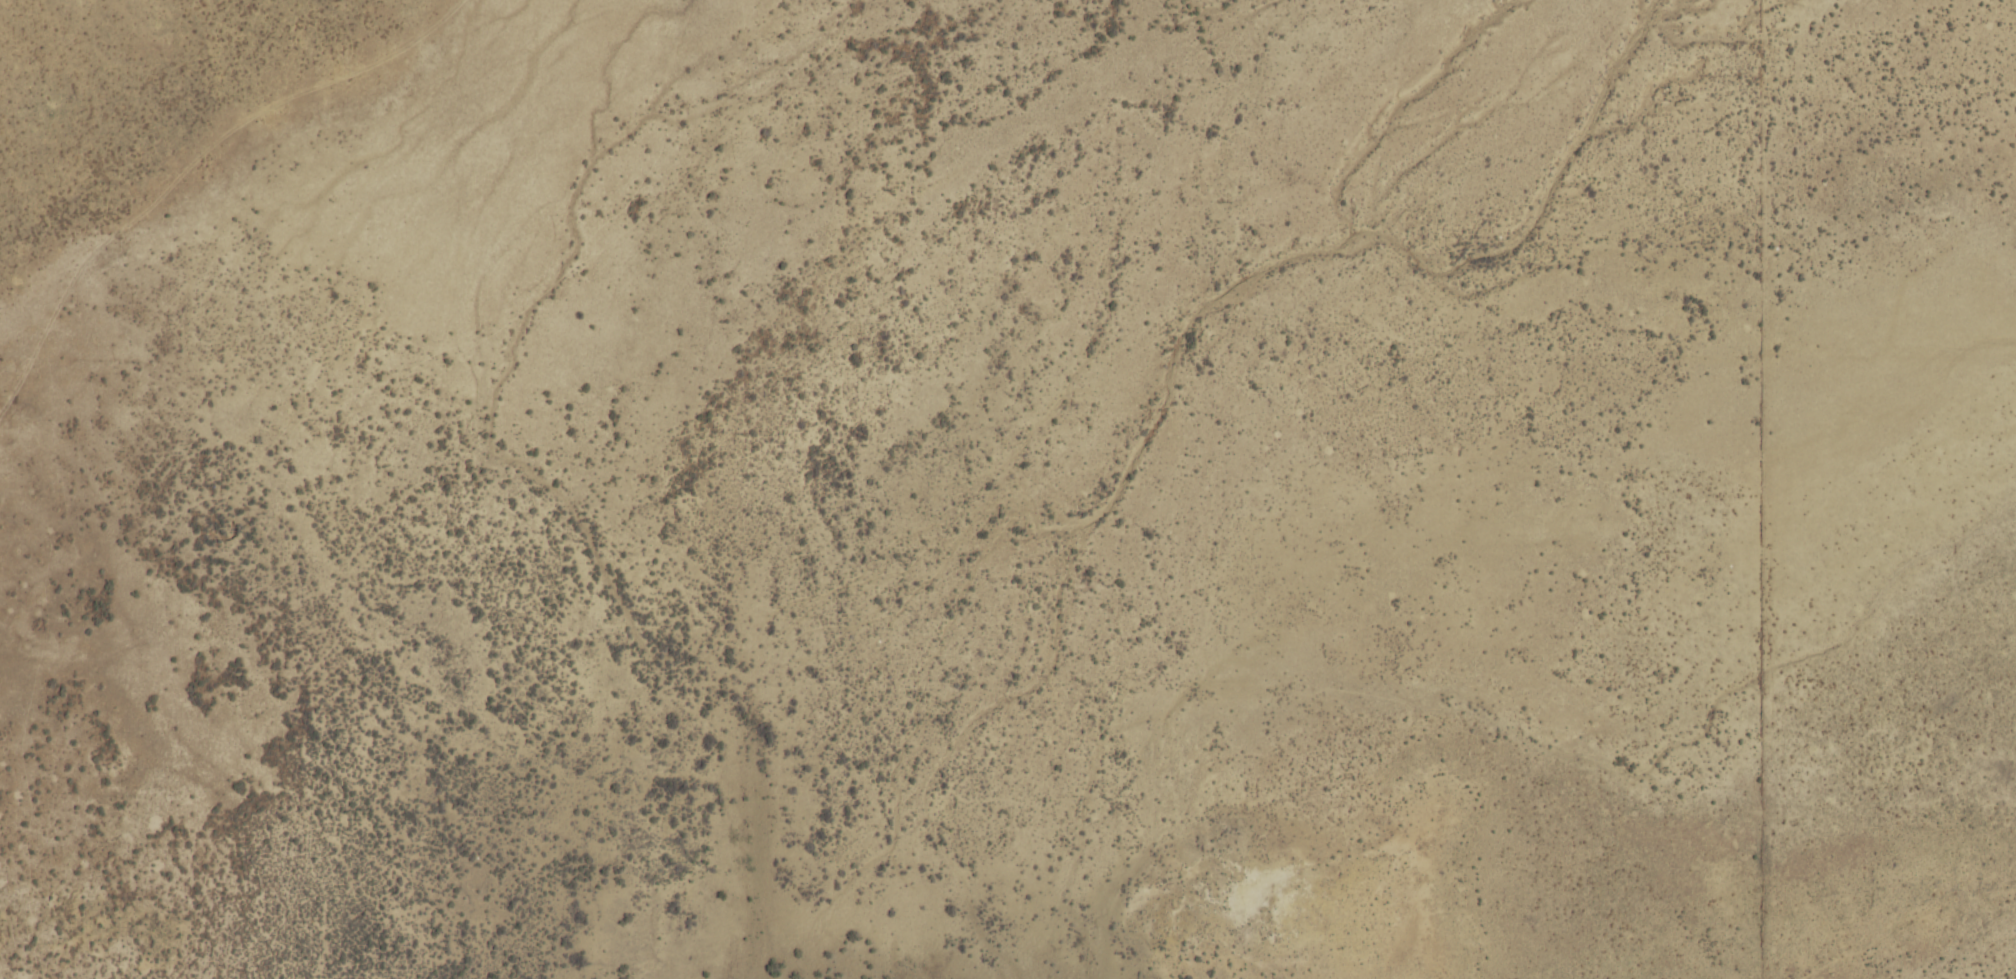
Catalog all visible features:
river: (507, 487)

